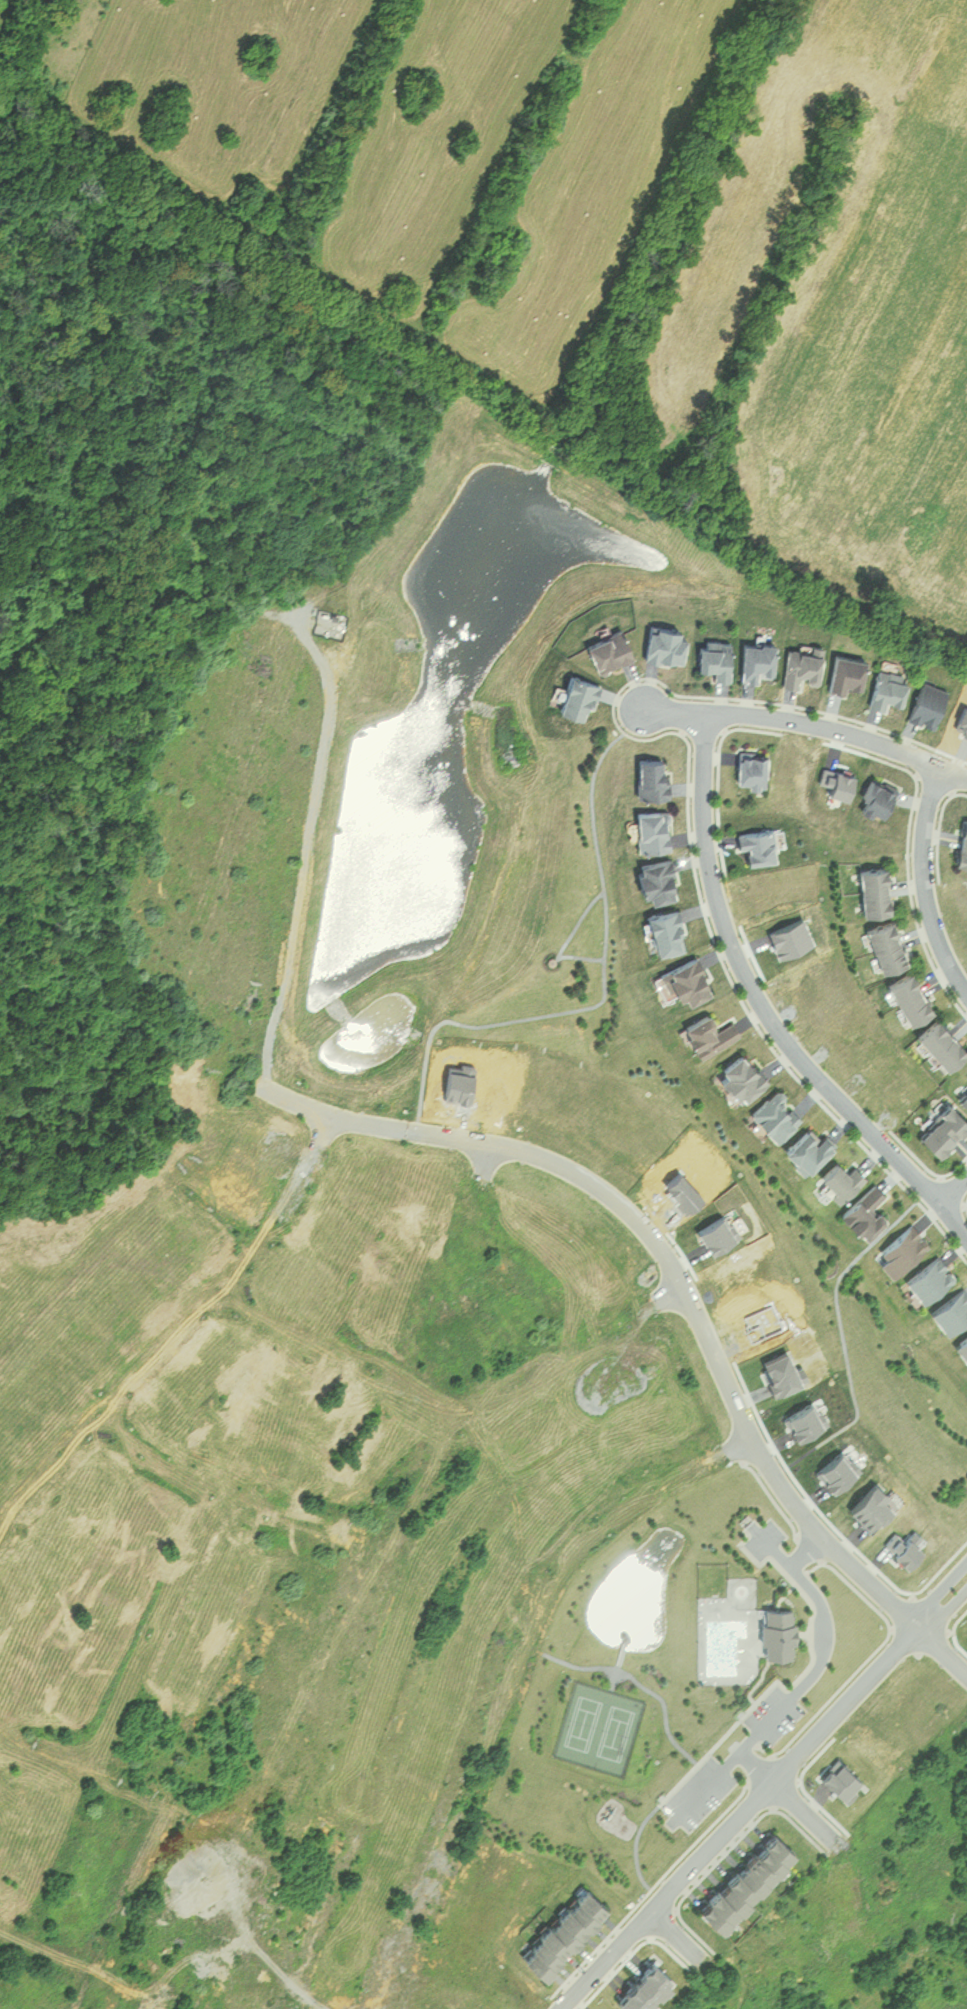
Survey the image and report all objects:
building: (662, 643)
building: (605, 649)
building: (713, 658)
building: (756, 659)
building: (800, 666)
building: (845, 672)
building: (886, 688)
building: (575, 696)
building: (926, 703)
road: (810, 723)
building: (751, 770)
building: (651, 778)
building: (877, 797)
building: (652, 830)
building: (961, 844)
building: (757, 847)
building: (654, 880)
road: (925, 882)
building: (873, 889)
building: (664, 931)
building: (884, 945)
building: (684, 980)
building: (906, 996)
road: (763, 1007)
building: (707, 1032)
building: (939, 1043)
building: (738, 1075)
building: (963, 1100)
building: (773, 1113)
building: (941, 1129)
road: (319, 1138)
building: (807, 1147)
building: (838, 1178)
road: (954, 1189)
building: (862, 1210)
building: (899, 1249)
building: (927, 1278)
road: (683, 1280)
building: (950, 1310)
building: (961, 1347)
parking lot: (764, 1536)
road: (806, 1549)
road: (938, 1588)
road: (944, 1609)
building: (776, 1631)
road: (801, 1681)
parking lot: (773, 1713)
park: (599, 1724)
road: (757, 1763)
parking lot: (699, 1790)
road: (803, 1809)
road: (737, 1817)
building: (741, 1878)
building: (563, 1930)
road: (678, 1936)

